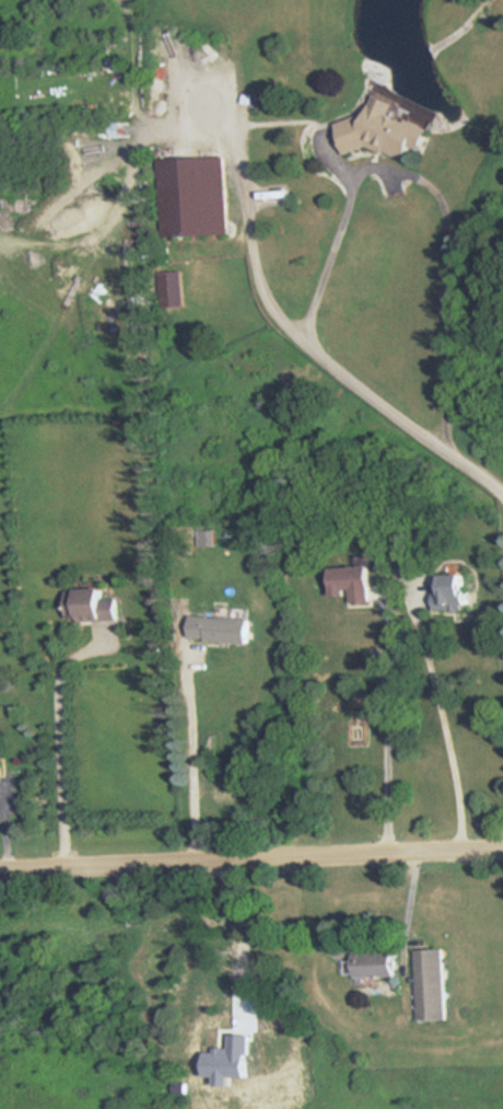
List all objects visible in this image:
building: (382, 130)
building: (192, 195)
road: (328, 254)
road: (448, 276)
road: (291, 337)
building: (349, 581)
building: (449, 592)
building: (90, 604)
building: (219, 627)
road: (444, 724)
road: (386, 733)
road: (60, 741)
road: (194, 758)
building: (0, 766)
road: (251, 863)
road: (411, 897)
road: (266, 926)
building: (374, 962)
building: (431, 982)

